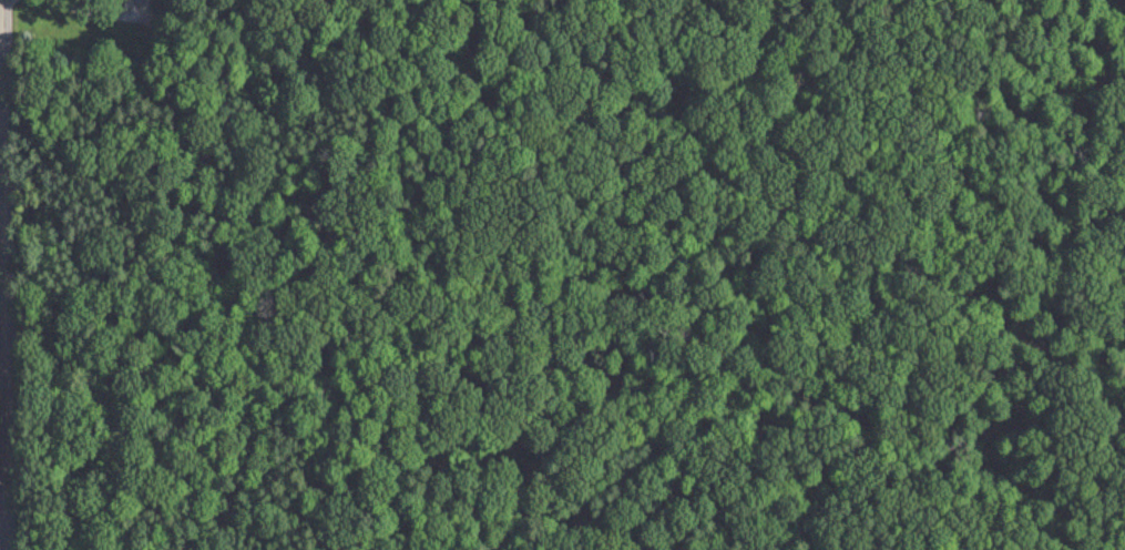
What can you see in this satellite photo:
road: (102, 6)
road: (1, 274)
road: (1, 366)

